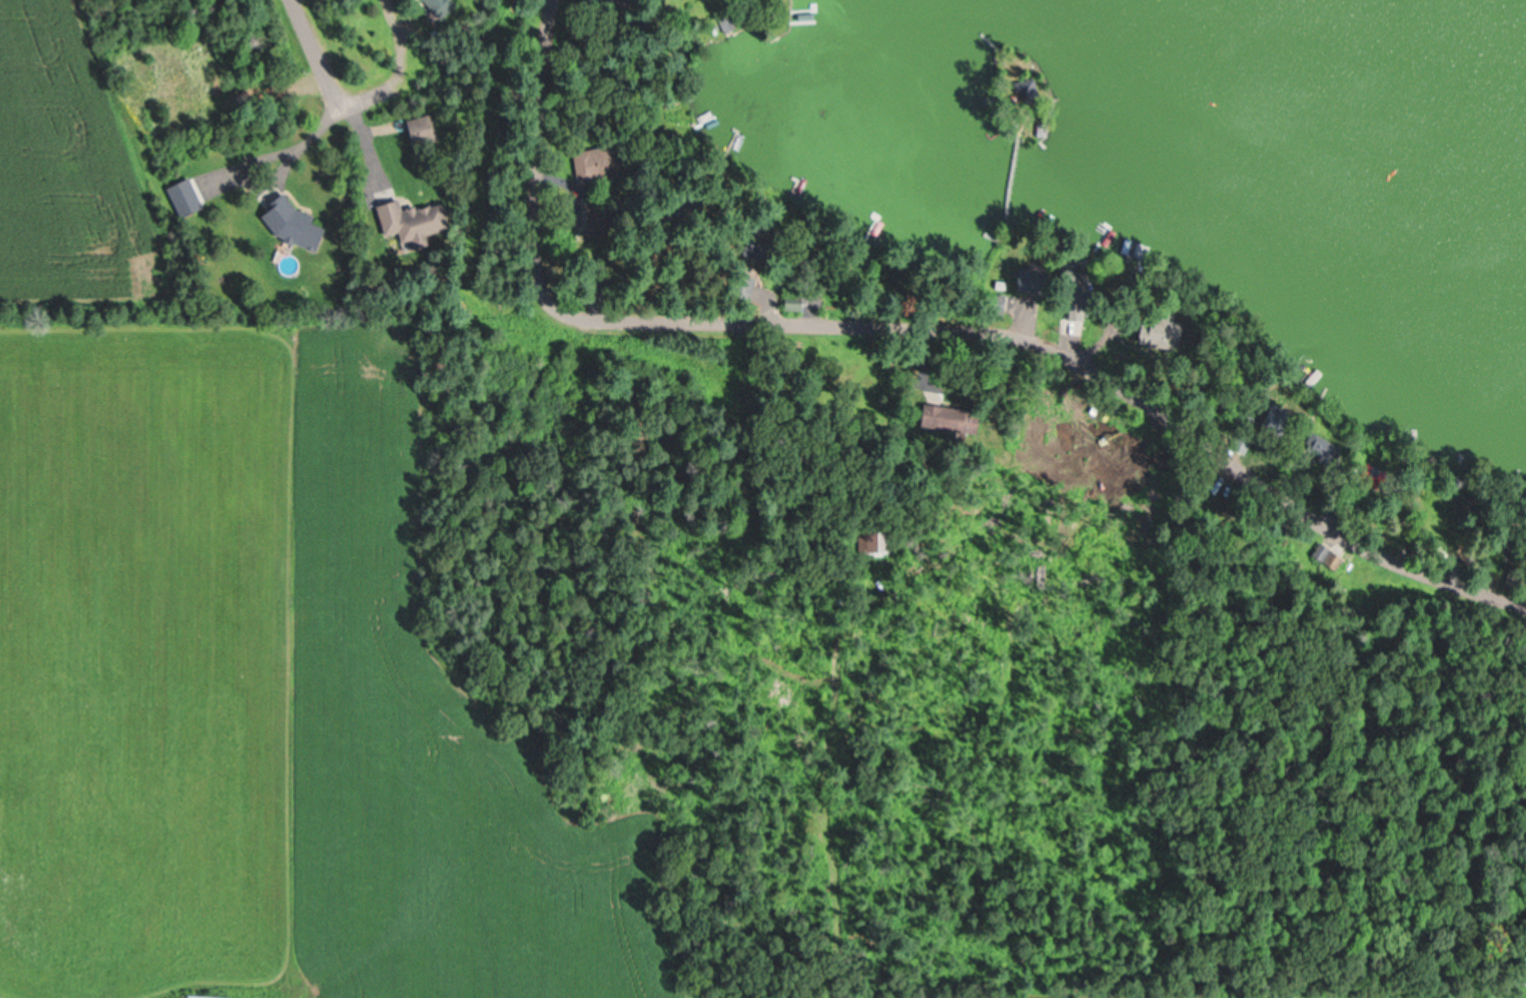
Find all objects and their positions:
building: (439, 6)
road: (315, 52)
building: (416, 129)
building: (589, 162)
building: (188, 199)
building: (406, 220)
building: (287, 222)
building: (737, 289)
building: (997, 303)
road: (927, 330)
building: (951, 418)
building: (1325, 556)
crop: (250, 642)
building: (206, 996)

